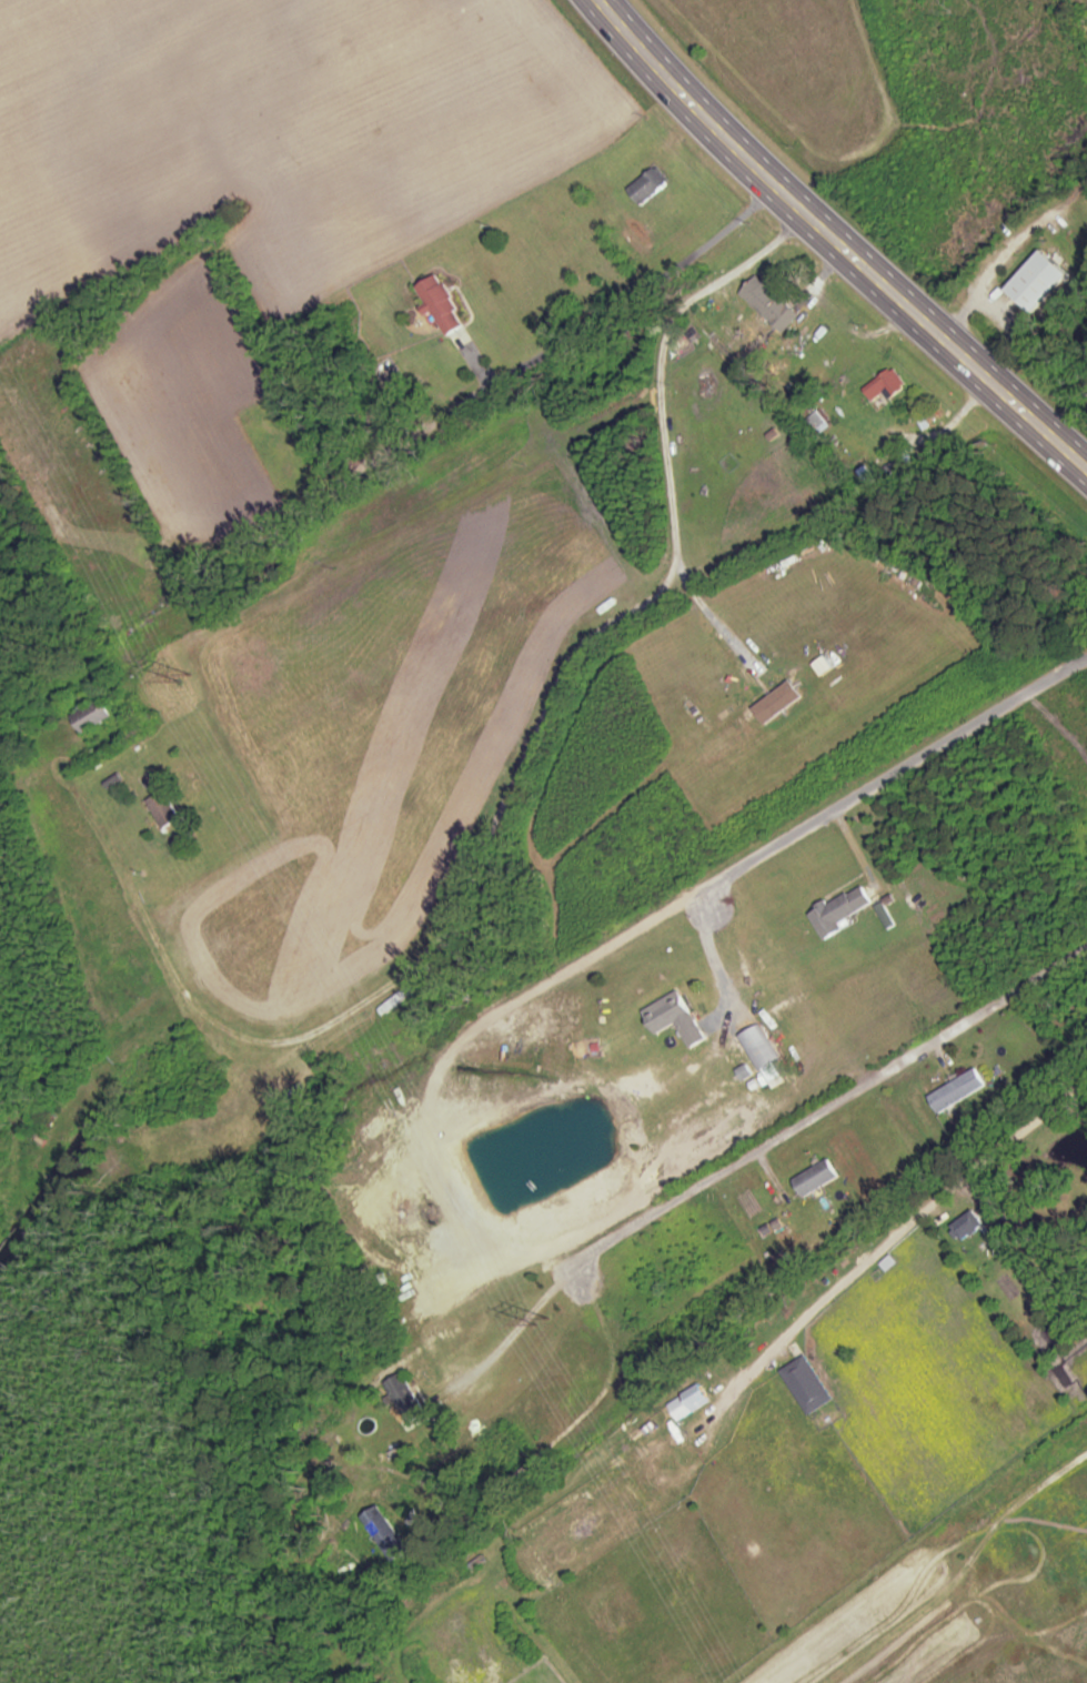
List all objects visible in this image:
building: (650, 184)
road: (833, 242)
building: (1039, 282)
road: (638, 292)
building: (772, 301)
building: (442, 303)
building: (886, 383)
building: (817, 420)
road: (712, 619)
power tower: (188, 677)
building: (92, 714)
road: (553, 732)
road: (890, 774)
building: (164, 808)
building: (841, 910)
building: (676, 1017)
building: (757, 1047)
building: (959, 1090)
road: (814, 1122)
building: (818, 1178)
building: (968, 1226)
power tower: (544, 1321)
building: (450, 1330)
building: (807, 1384)
building: (409, 1398)
building: (690, 1401)
building: (388, 1533)

